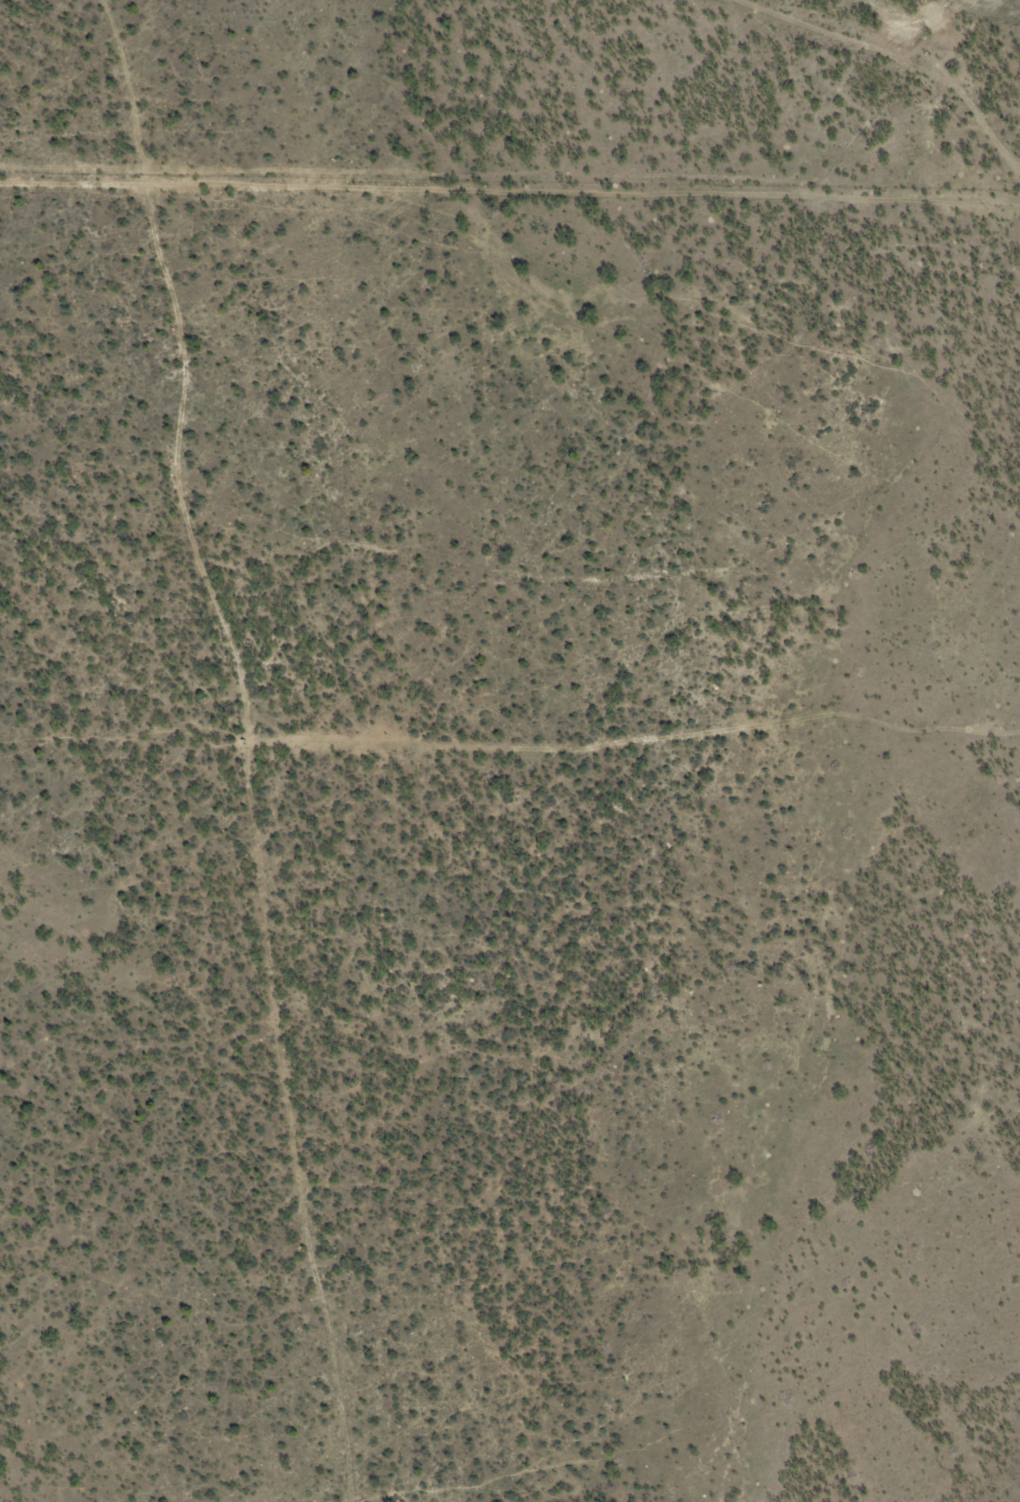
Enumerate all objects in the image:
road: (630, 738)
road: (235, 740)

